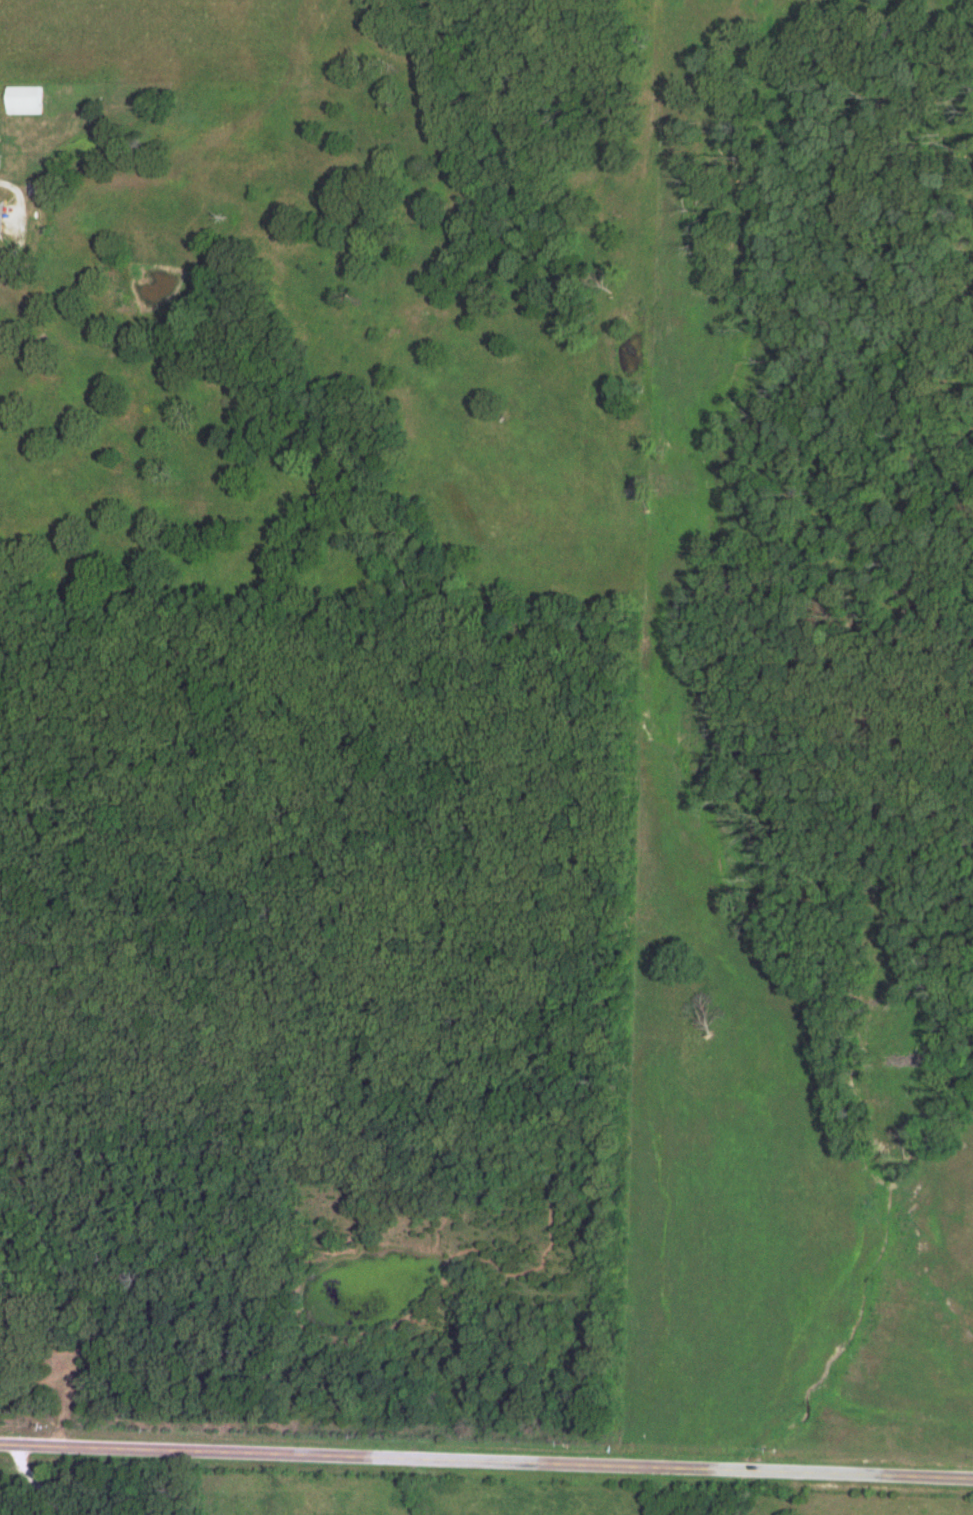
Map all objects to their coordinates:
building: (23, 98)
building: (1, 215)
road: (25, 217)
road: (486, 1458)
road: (822, 1493)

